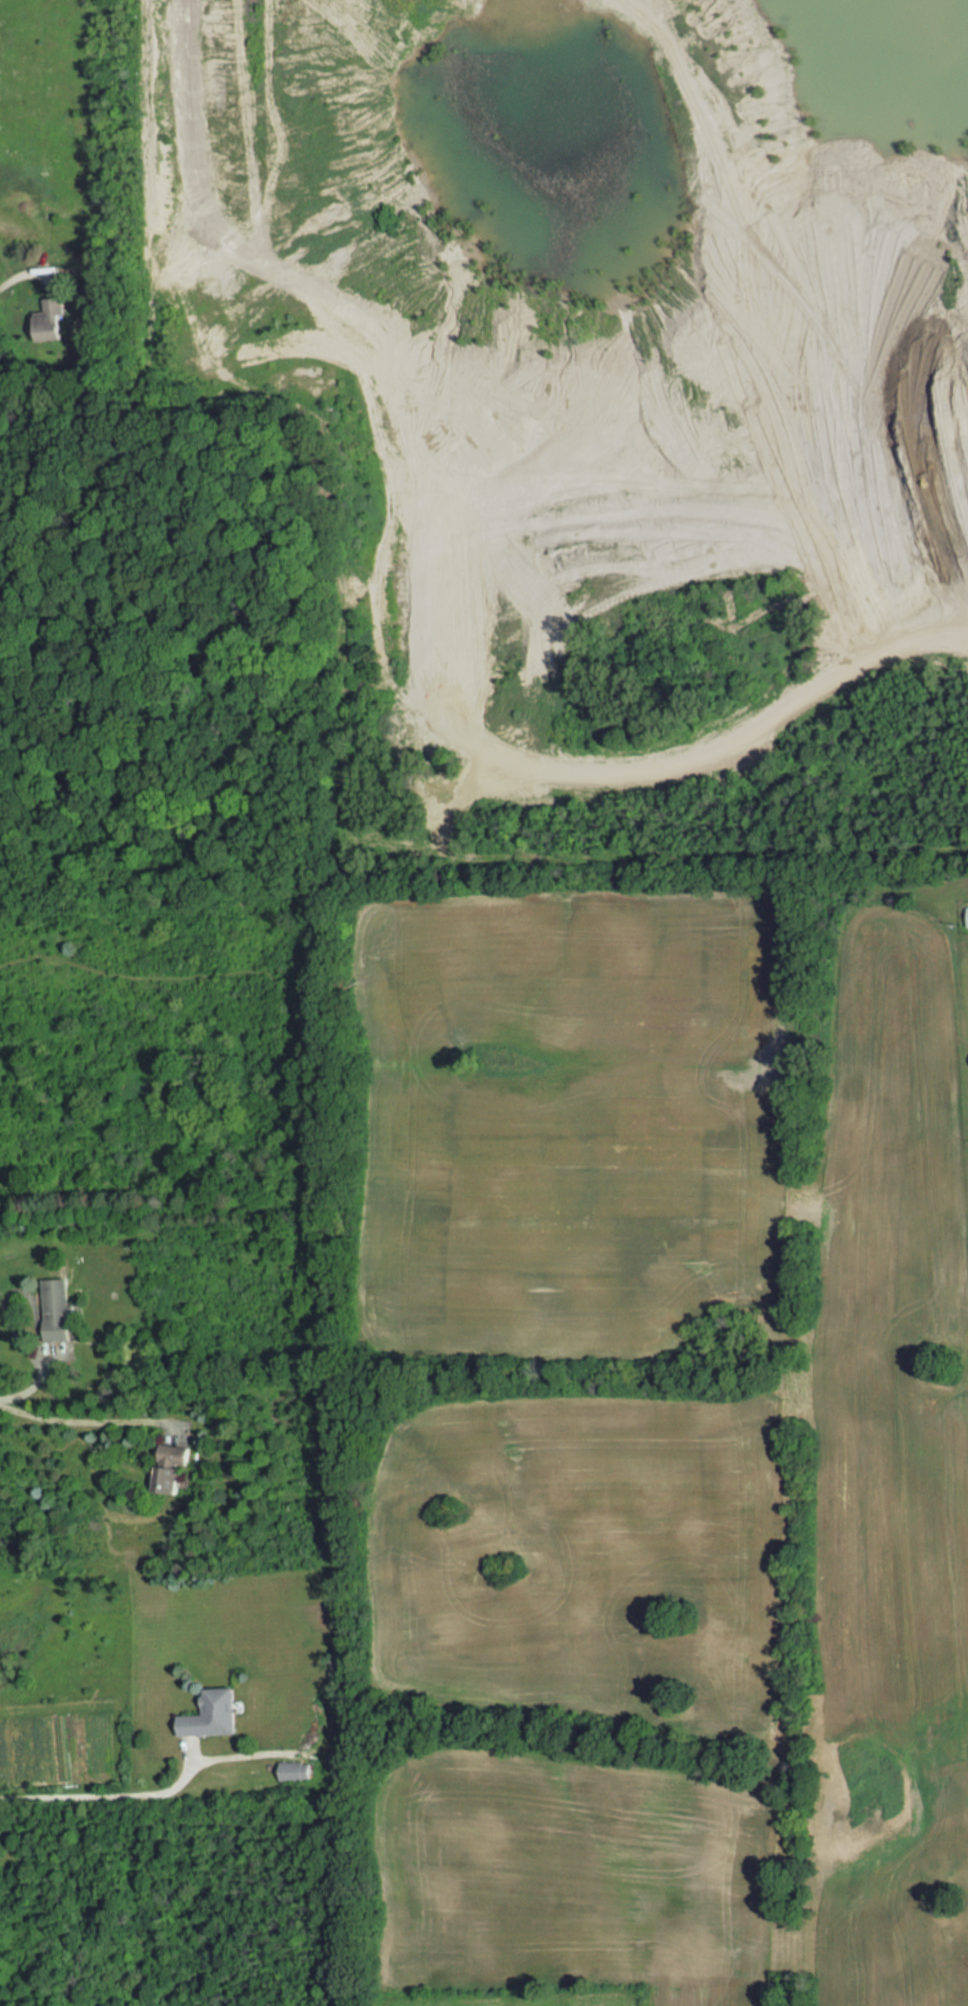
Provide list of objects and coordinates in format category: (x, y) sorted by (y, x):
road: (13, 281)
building: (45, 319)
quarry: (601, 401)
building: (967, 916)
crop: (569, 1132)
building: (57, 1310)
road: (76, 1424)
crop: (895, 1429)
building: (175, 1472)
crop: (582, 1559)
building: (209, 1714)
building: (290, 1771)
road: (97, 1795)
crop: (573, 1879)
crop: (525, 1996)

